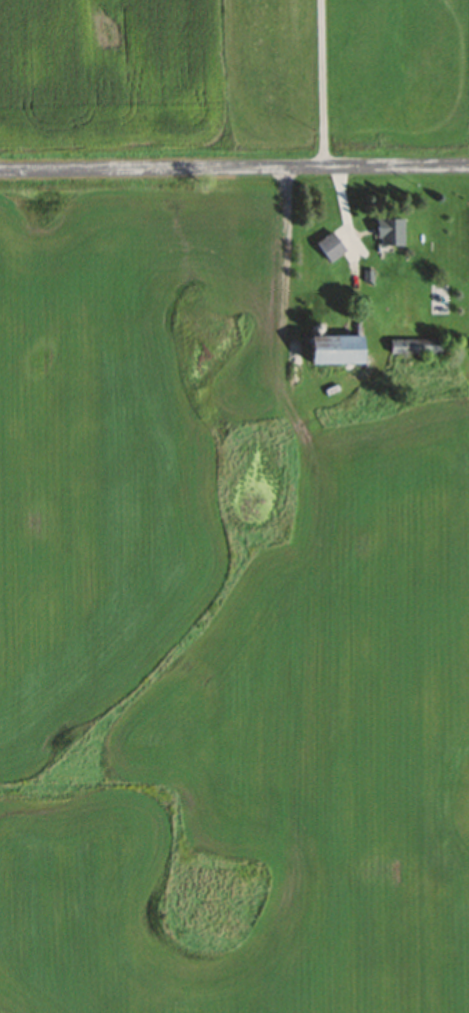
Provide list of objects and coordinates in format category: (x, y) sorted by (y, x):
road: (234, 170)
building: (420, 228)
building: (390, 231)
building: (330, 247)
building: (416, 345)
building: (335, 349)

